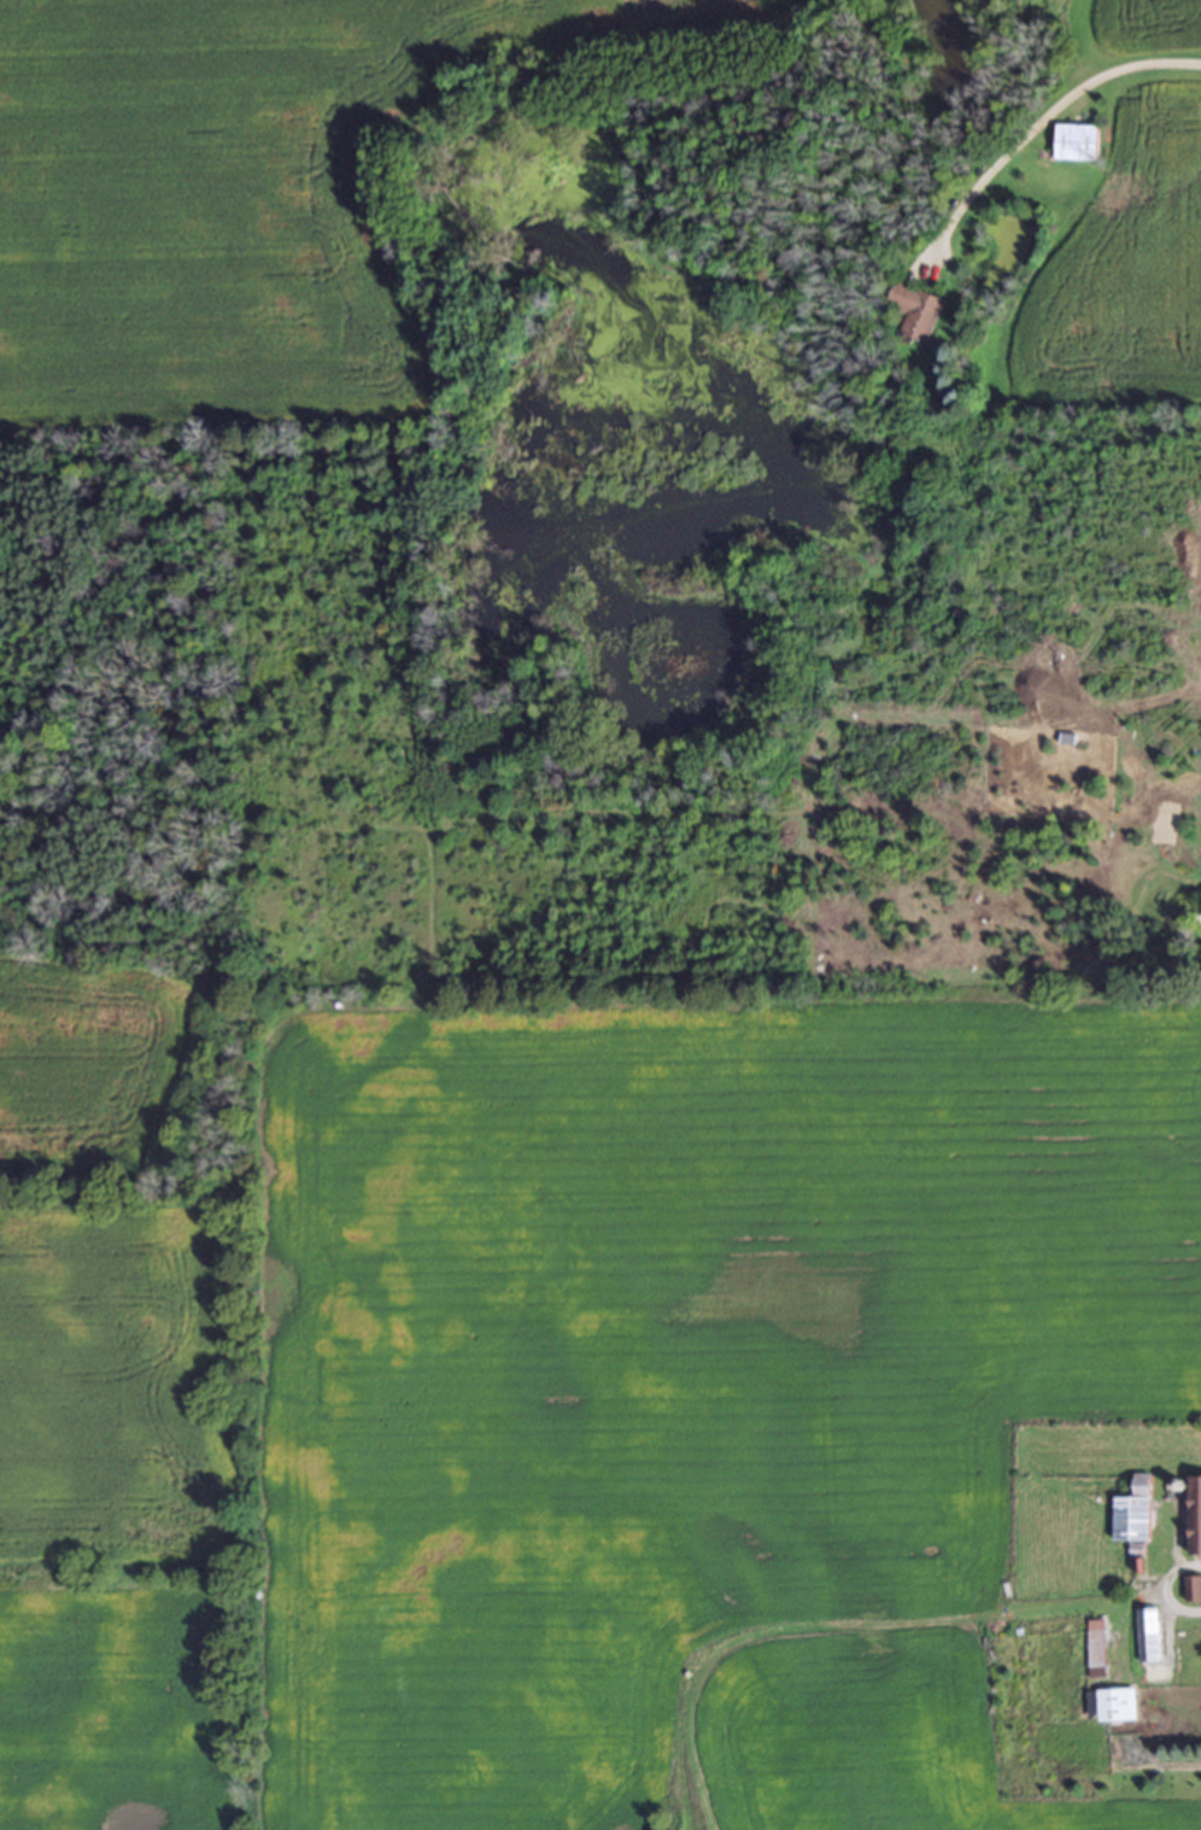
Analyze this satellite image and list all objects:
road: (1039, 123)
building: (1074, 140)
building: (916, 310)
building: (1132, 1512)
building: (1195, 1513)
road: (1164, 1585)
building: (1193, 1588)
building: (1146, 1633)
building: (1094, 1642)
building: (1111, 1703)

